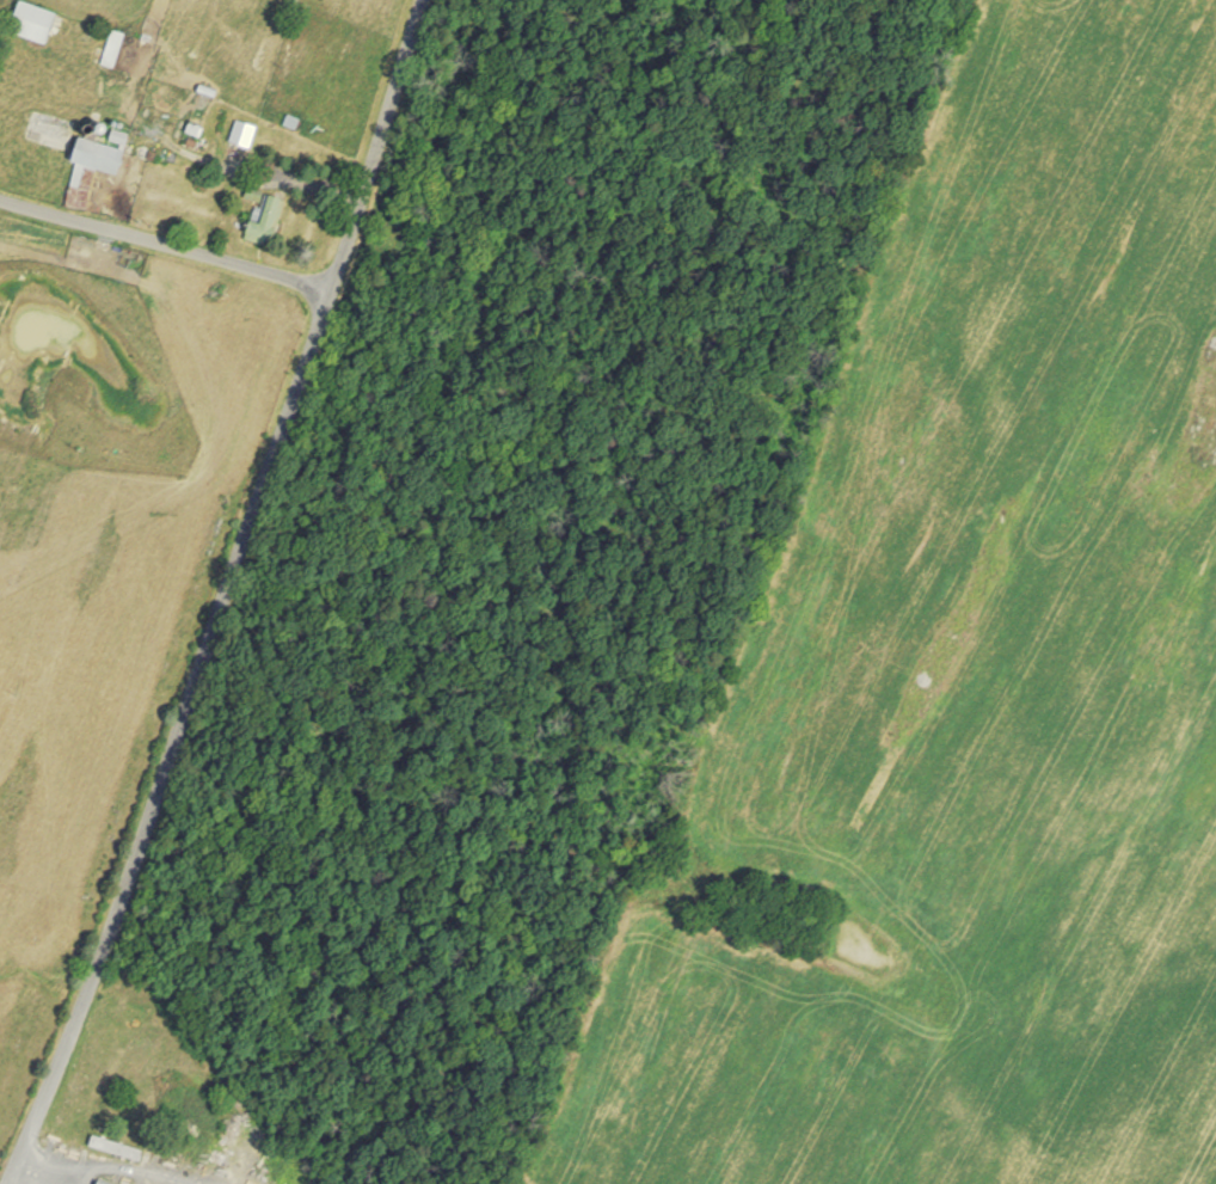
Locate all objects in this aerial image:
road: (379, 145)
road: (165, 241)
road: (179, 738)
road: (103, 1167)

